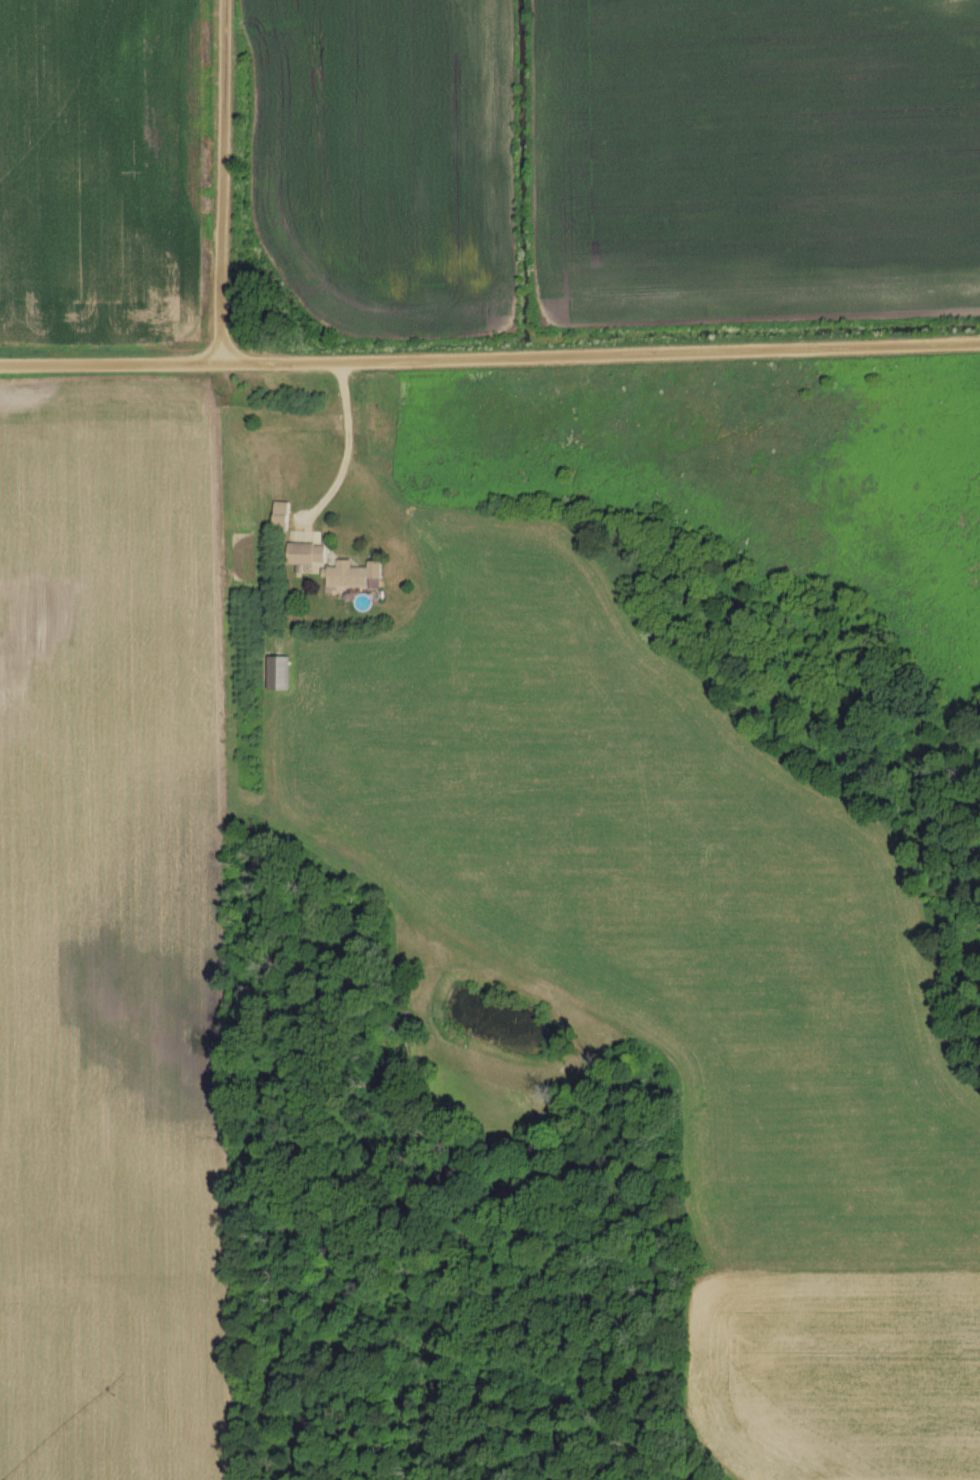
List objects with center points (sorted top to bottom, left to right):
crop: (759, 161)
crop: (391, 163)
crop: (101, 172)
road: (228, 180)
road: (490, 356)
road: (349, 446)
building: (303, 554)
building: (349, 575)
crop: (114, 938)
crop: (682, 971)

